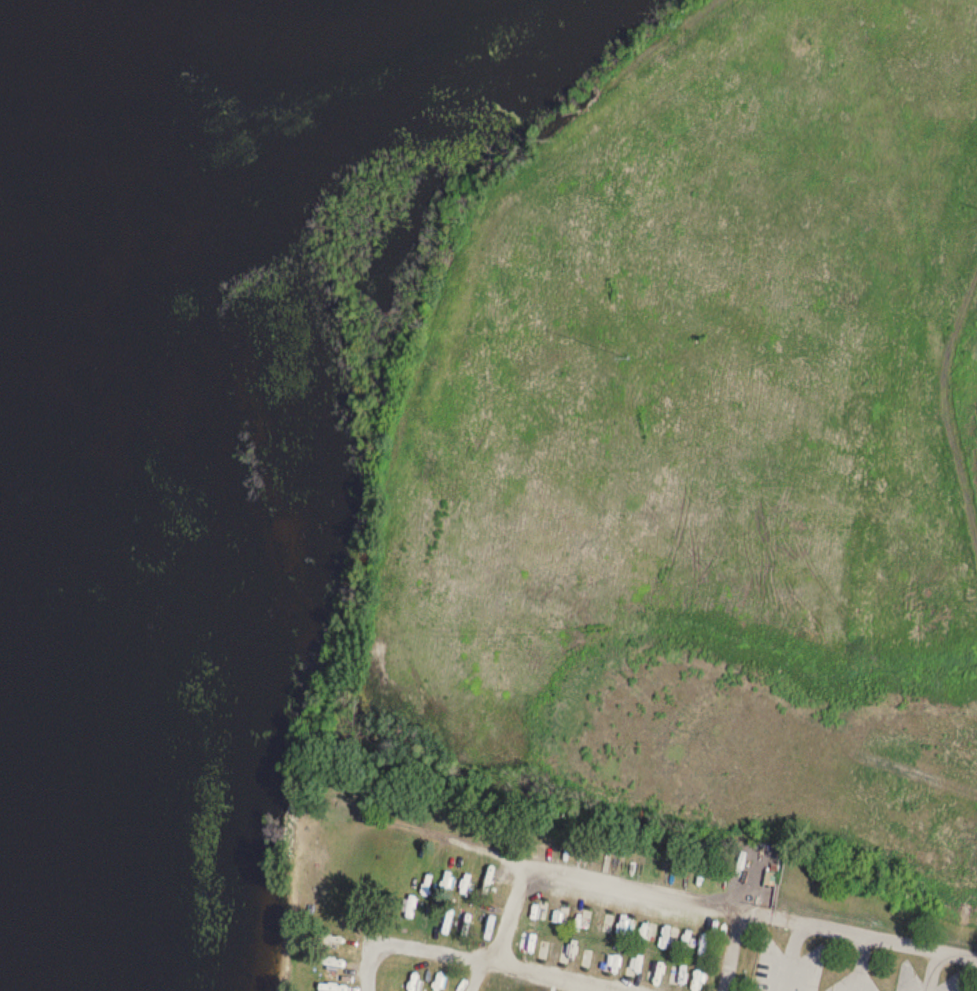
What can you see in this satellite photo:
river: (383, 39)
building: (769, 877)
road: (598, 882)
road: (851, 932)
road: (732, 950)
road: (458, 960)
road: (860, 963)
parking lot: (845, 969)
road: (933, 971)

